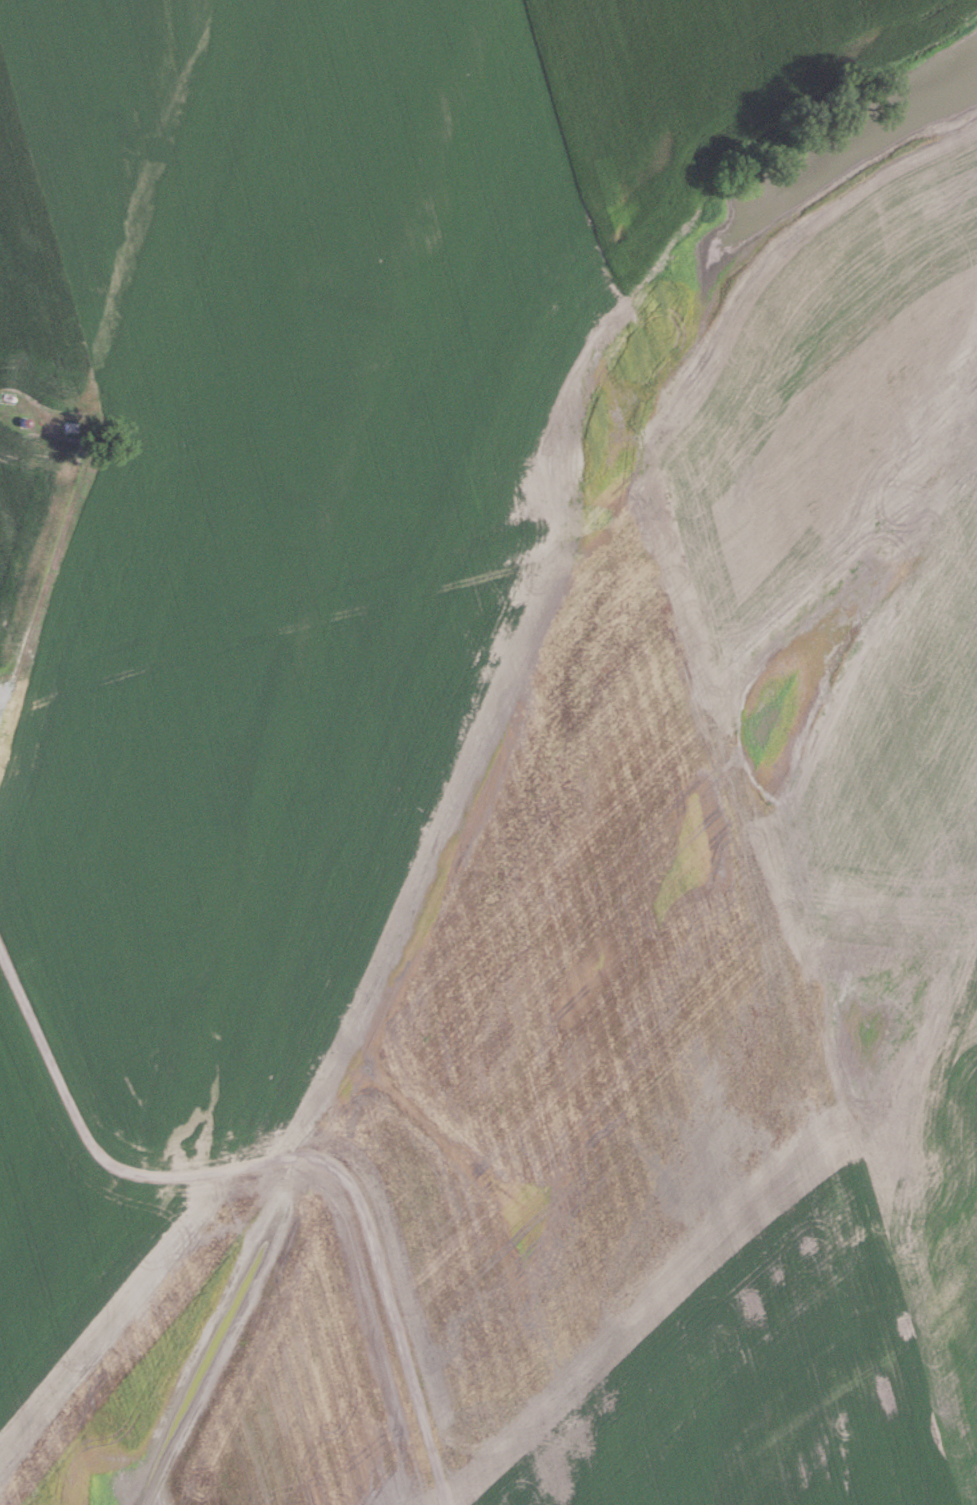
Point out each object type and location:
road: (43, 576)
crop: (488, 752)
road: (279, 1158)

